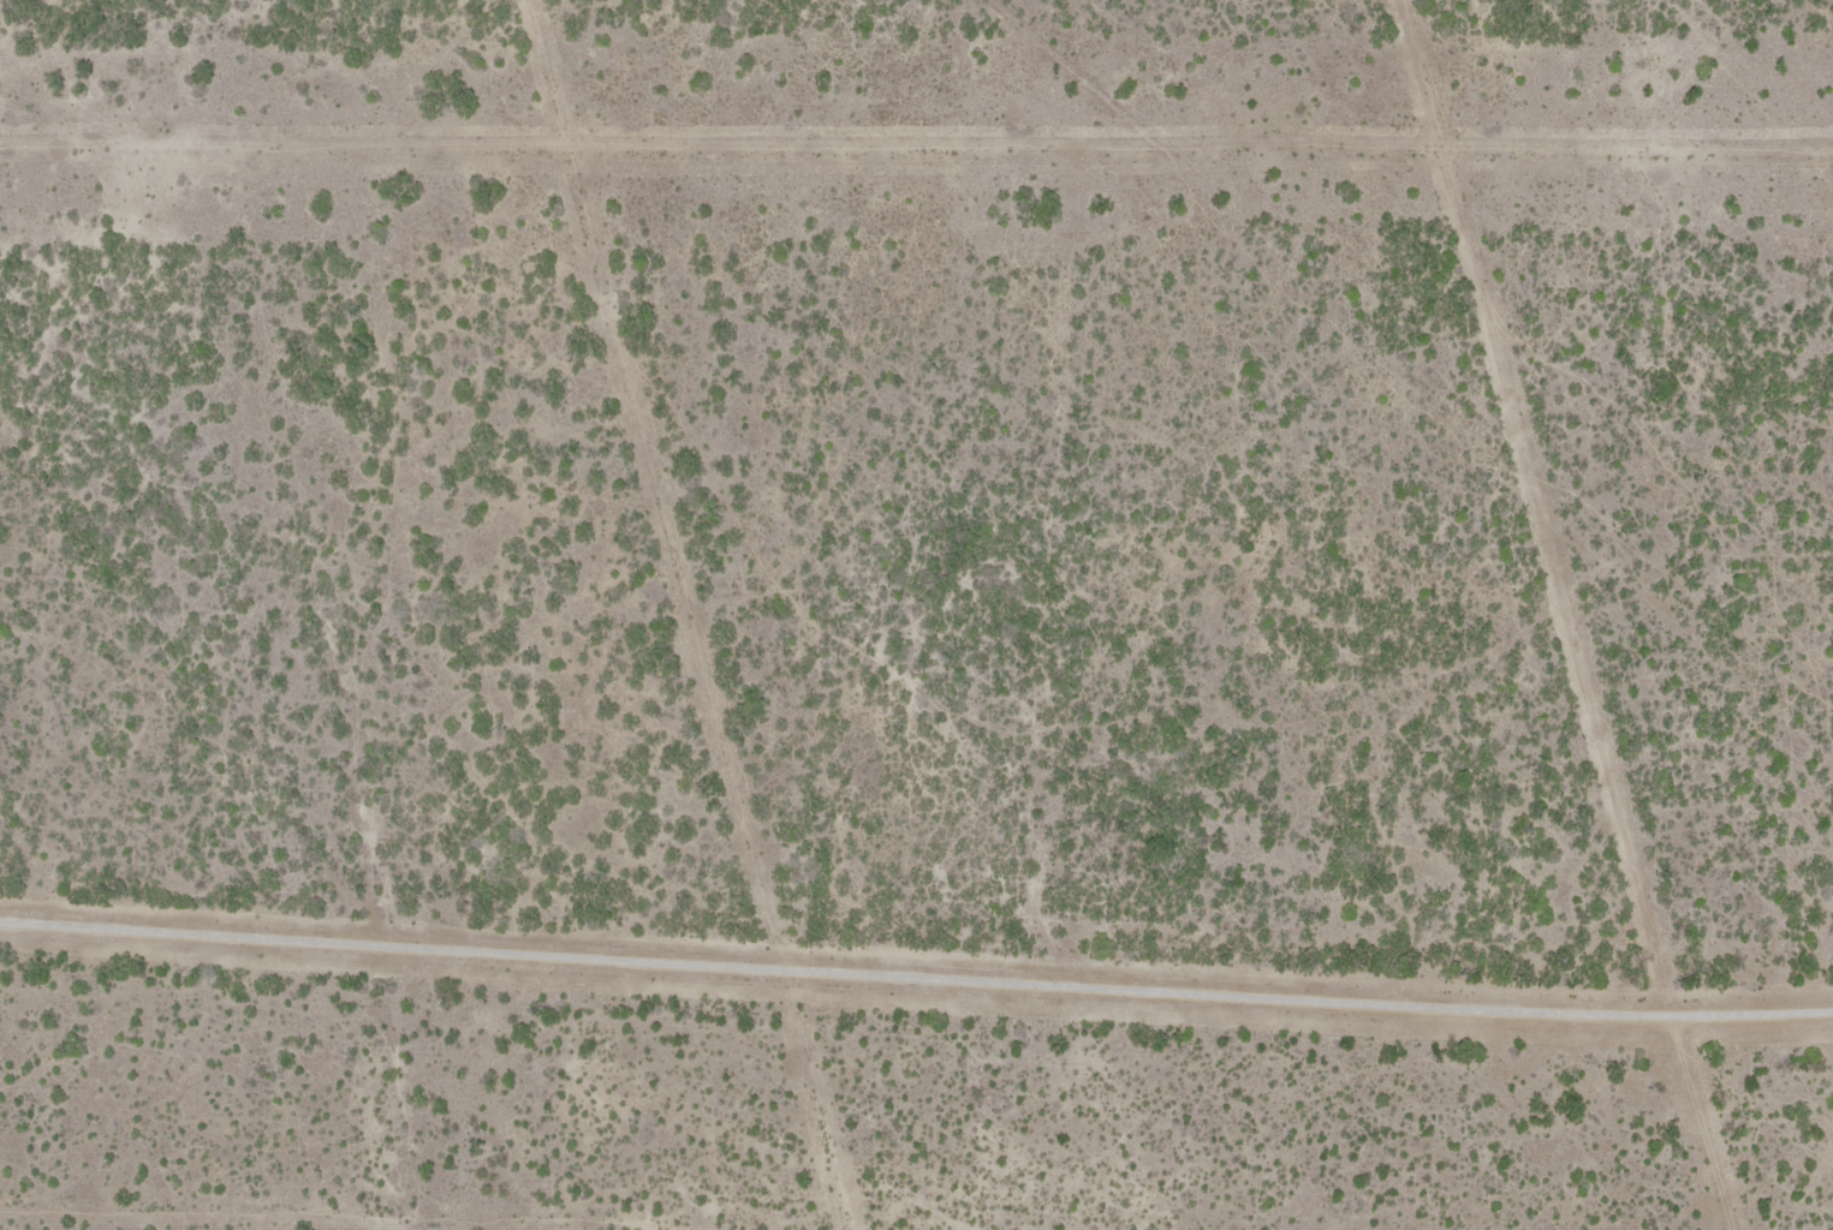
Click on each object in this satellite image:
road: (916, 959)

